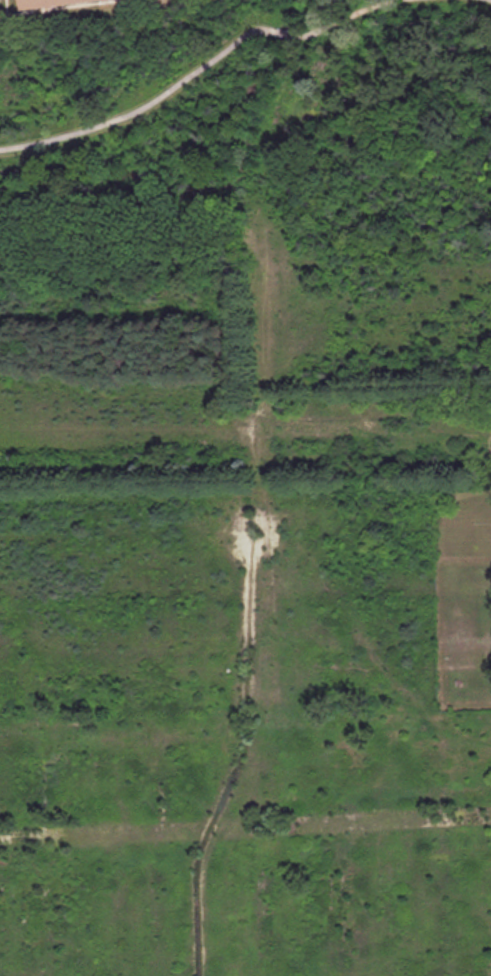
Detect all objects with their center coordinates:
road: (489, 0)
building: (47, 2)
road: (341, 19)
road: (284, 34)
road: (144, 105)

